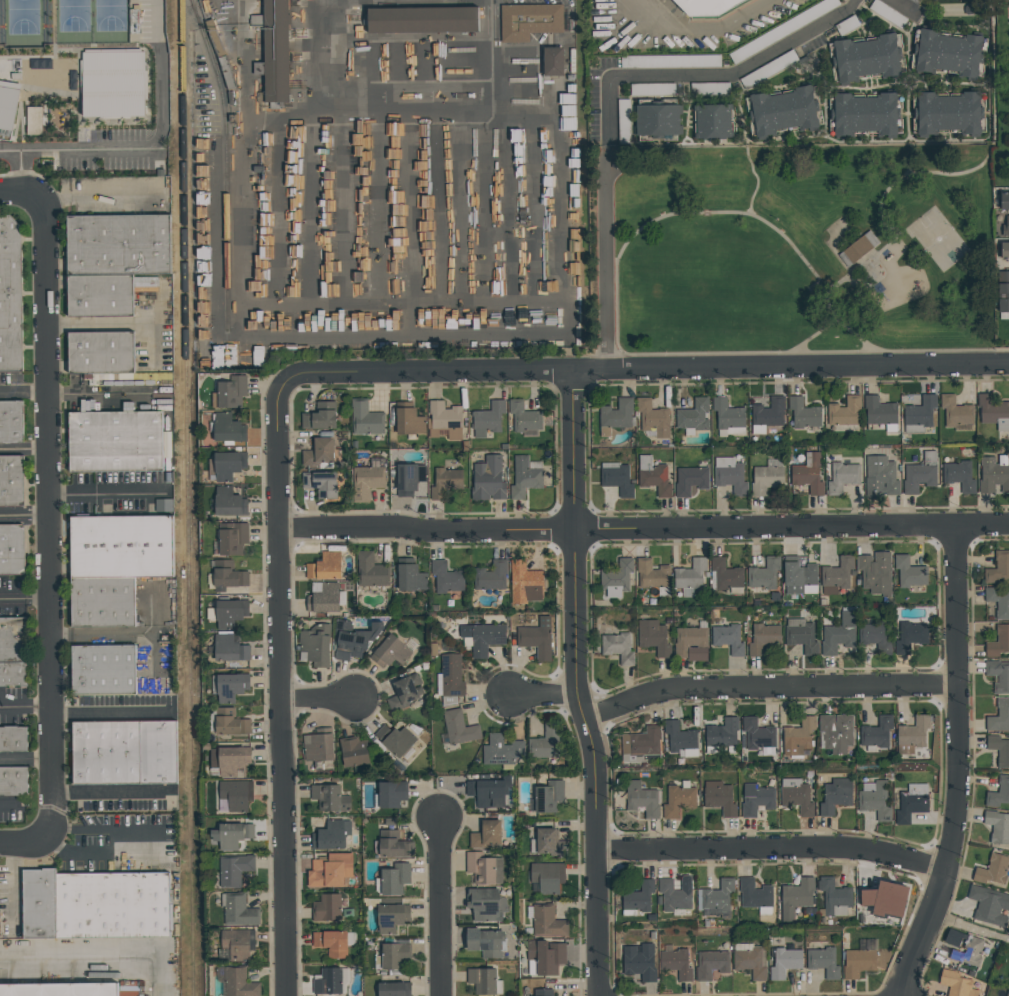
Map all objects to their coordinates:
building: (916, 1)
road: (489, 2)
building: (709, 7)
building: (961, 8)
building: (887, 14)
building: (423, 20)
park: (64, 21)
building: (529, 21)
building: (846, 26)
road: (698, 28)
building: (782, 30)
road: (489, 43)
building: (274, 50)
building: (948, 54)
building: (866, 59)
building: (553, 61)
building: (670, 62)
building: (768, 69)
road: (744, 70)
building: (15, 77)
road: (910, 83)
building: (112, 84)
building: (710, 87)
building: (651, 89)
building: (9, 107)
road: (608, 112)
building: (783, 113)
building: (947, 115)
building: (864, 116)
building: (657, 119)
building: (33, 121)
building: (623, 121)
building: (712, 121)
road: (156, 140)
road: (9, 152)
road: (984, 162)
railway: (228, 165)
road: (560, 173)
road: (22, 174)
road: (759, 180)
road: (19, 193)
building: (1004, 201)
road: (766, 222)
building: (1005, 227)
building: (120, 243)
park: (803, 249)
building: (862, 249)
building: (1004, 250)
road: (607, 257)
road: (870, 261)
railway: (187, 281)
building: (1003, 291)
building: (11, 293)
road: (240, 293)
building: (102, 295)
road: (806, 344)
building: (102, 351)
road: (641, 372)
road: (23, 390)
building: (231, 392)
parking lot: (26, 401)
building: (878, 411)
building: (844, 412)
building: (920, 412)
building: (954, 412)
building: (993, 412)
building: (768, 413)
building: (616, 414)
building: (803, 414)
building: (727, 415)
building: (693, 416)
building: (320, 417)
building: (489, 417)
building: (523, 417)
building: (652, 418)
building: (365, 419)
building: (443, 421)
building: (12, 422)
building: (409, 422)
building: (227, 428)
building: (117, 441)
road: (23, 450)
building: (318, 452)
building: (228, 466)
building: (807, 474)
building: (920, 474)
building: (653, 476)
building: (729, 476)
building: (959, 476)
building: (993, 476)
building: (524, 477)
building: (842, 477)
building: (880, 477)
building: (767, 478)
building: (409, 479)
building: (487, 480)
building: (13, 481)
building: (617, 481)
building: (690, 481)
building: (445, 482)
building: (320, 483)
building: (366, 483)
road: (126, 494)
road: (68, 496)
building: (229, 502)
road: (23, 517)
road: (47, 517)
road: (643, 529)
building: (232, 539)
building: (122, 545)
building: (13, 549)
building: (324, 568)
building: (998, 568)
building: (371, 571)
building: (909, 572)
building: (837, 573)
building: (875, 573)
building: (652, 574)
building: (725, 574)
building: (765, 574)
building: (690, 575)
building: (228, 576)
building: (490, 576)
building: (616, 576)
building: (798, 577)
building: (410, 578)
building: (446, 578)
building: (524, 583)
road: (24, 598)
building: (324, 599)
building: (104, 601)
building: (998, 602)
building: (229, 614)
building: (801, 636)
building: (910, 636)
building: (875, 637)
building: (483, 638)
building: (653, 638)
building: (762, 638)
building: (14, 639)
building: (352, 639)
building: (728, 639)
building: (836, 639)
building: (535, 641)
building: (998, 641)
building: (315, 644)
building: (691, 644)
building: (617, 648)
building: (229, 649)
building: (390, 652)
building: (104, 668)
building: (13, 674)
building: (999, 676)
building: (451, 679)
road: (576, 685)
building: (230, 687)
road: (768, 690)
road: (279, 692)
building: (403, 693)
road: (542, 694)
road: (316, 696)
road: (8, 706)
road: (33, 706)
road: (111, 711)
building: (999, 716)
building: (230, 723)
building: (458, 728)
building: (913, 732)
building: (721, 733)
building: (836, 733)
building: (876, 733)
building: (757, 734)
building: (679, 737)
building: (798, 737)
building: (14, 739)
building: (394, 739)
building: (641, 742)
building: (544, 743)
building: (319, 748)
building: (999, 750)
building: (160, 751)
building: (501, 751)
building: (108, 752)
building: (353, 752)
road: (25, 759)
building: (232, 761)
road: (956, 765)
railway: (193, 778)
building: (13, 781)
road: (111, 792)
building: (486, 793)
building: (998, 793)
building: (391, 794)
building: (235, 795)
building: (835, 796)
building: (547, 797)
building: (795, 797)
building: (329, 798)
building: (718, 798)
building: (641, 800)
building: (678, 800)
building: (755, 800)
building: (875, 801)
building: (912, 803)
road: (8, 805)
building: (997, 827)
building: (485, 834)
building: (231, 835)
building: (330, 835)
road: (22, 842)
building: (549, 843)
road: (158, 845)
building: (393, 845)
road: (774, 848)
building: (483, 869)
building: (234, 870)
building: (992, 870)
building: (329, 871)
building: (546, 878)
building: (394, 879)
building: (675, 894)
building: (754, 894)
building: (797, 894)
building: (718, 895)
building: (637, 898)
building: (833, 899)
building: (875, 903)
building: (38, 904)
building: (988, 904)
building: (485, 905)
building: (113, 906)
building: (326, 908)
road: (438, 908)
building: (238, 911)
building: (390, 918)
building: (546, 922)
building: (484, 942)
building: (330, 943)
building: (238, 944)
building: (966, 952)
building: (395, 956)
building: (545, 956)
road: (99, 957)
building: (639, 962)
building: (822, 962)
building: (749, 963)
building: (784, 963)
building: (858, 963)
building: (675, 964)
building: (710, 965)
building: (481, 981)
building: (327, 982)
building: (238, 983)
building: (955, 984)
building: (393, 989)
building: (135, 990)
building: (60, 991)
building: (542, 992)
building: (1007, 993)

